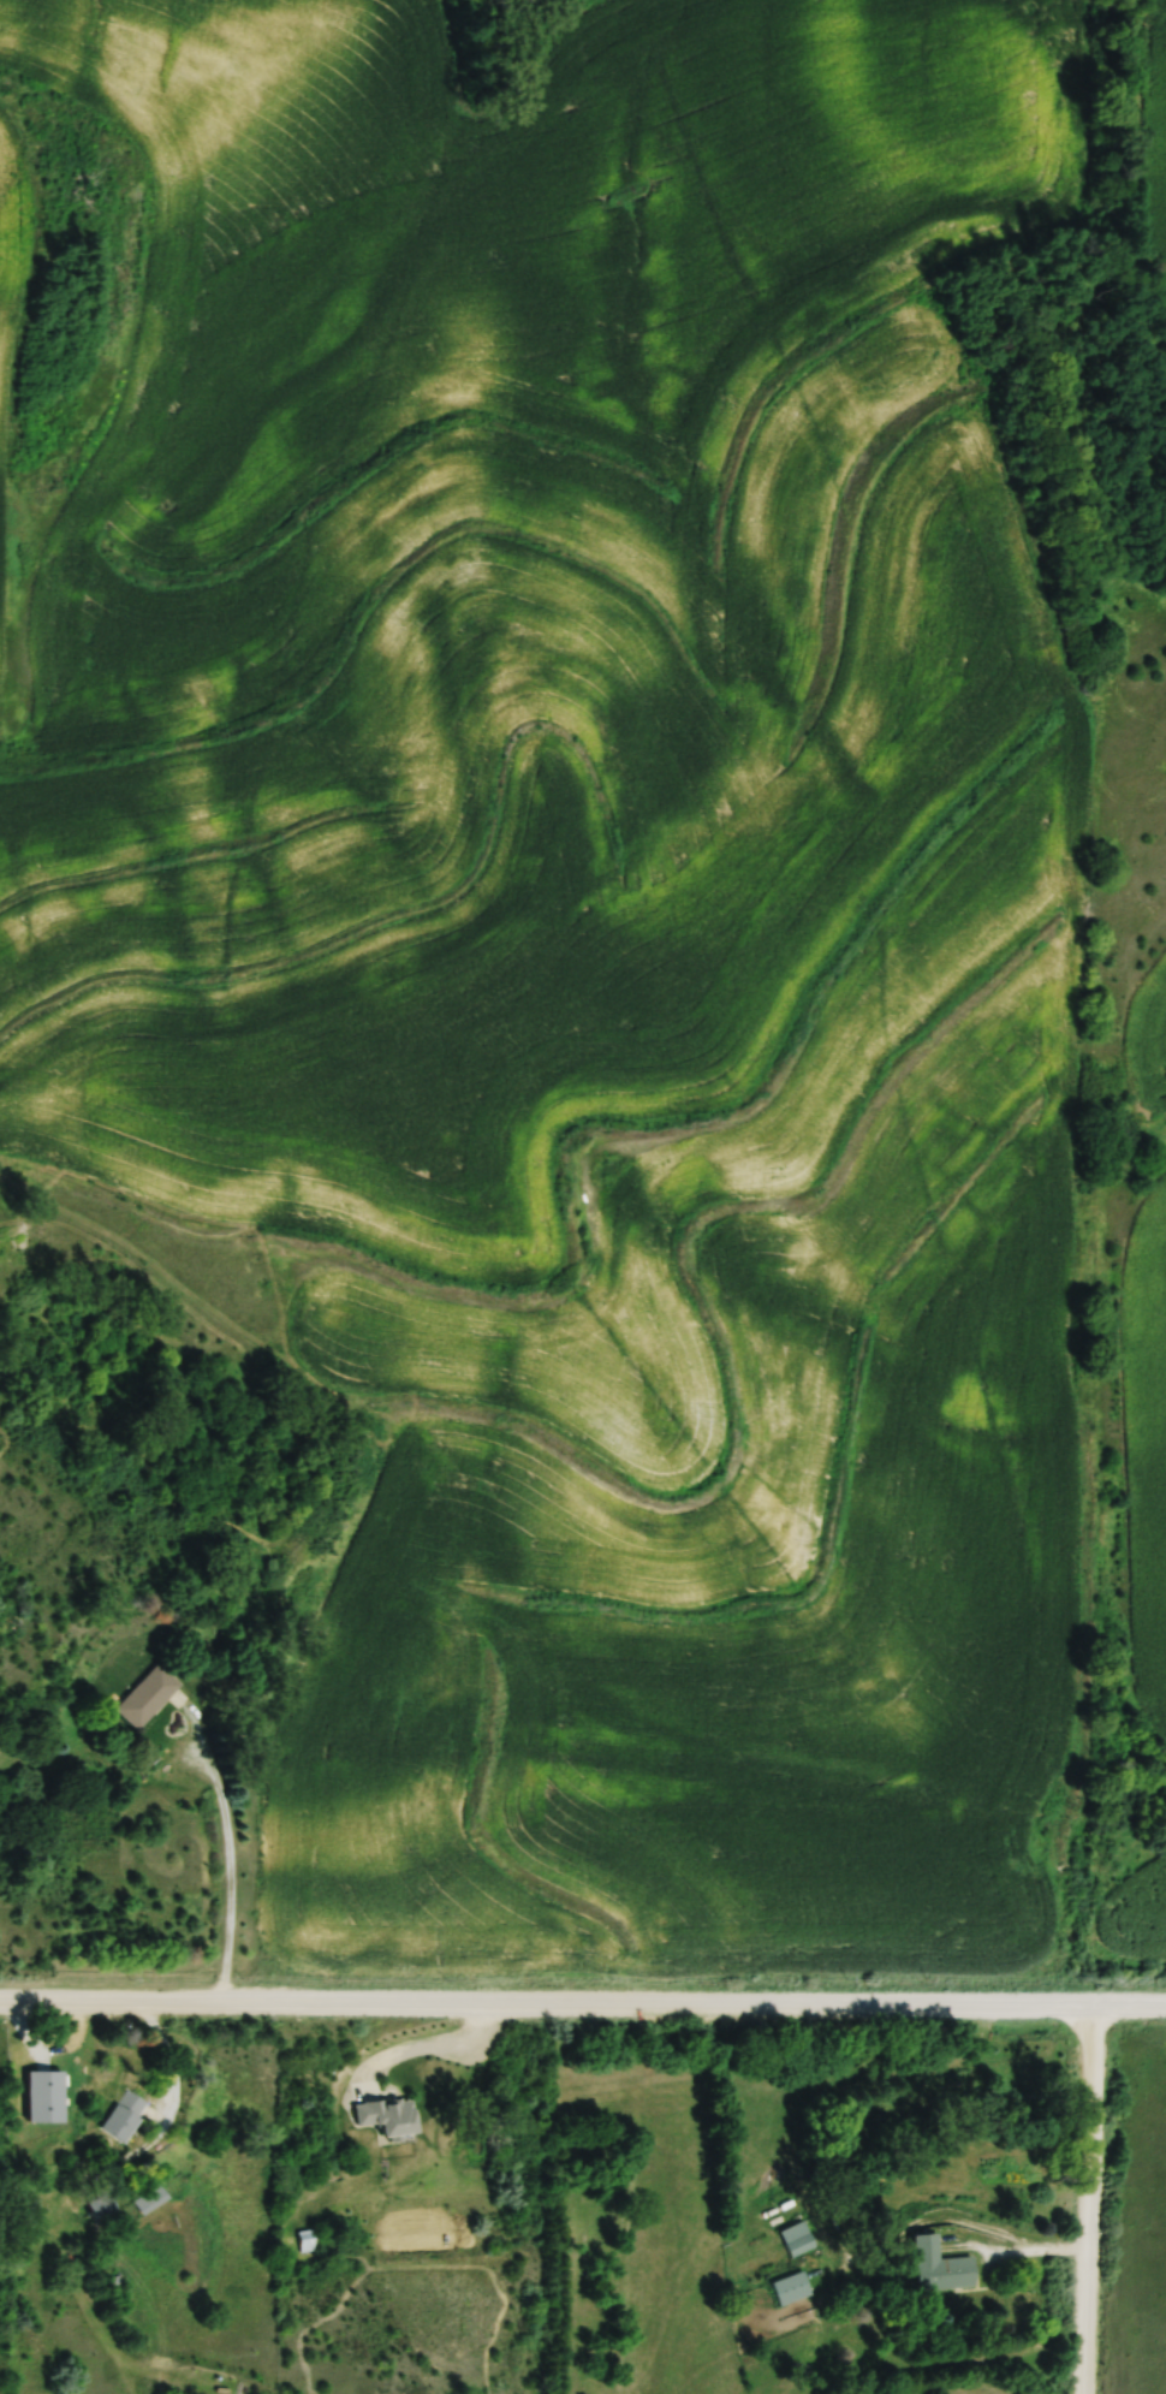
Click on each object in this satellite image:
building: (150, 1698)
road: (226, 1846)
road: (583, 1985)
road: (435, 2027)
building: (129, 2117)
road: (1084, 2193)
building: (799, 2239)
road: (1011, 2253)
building: (942, 2268)
building: (793, 2288)

